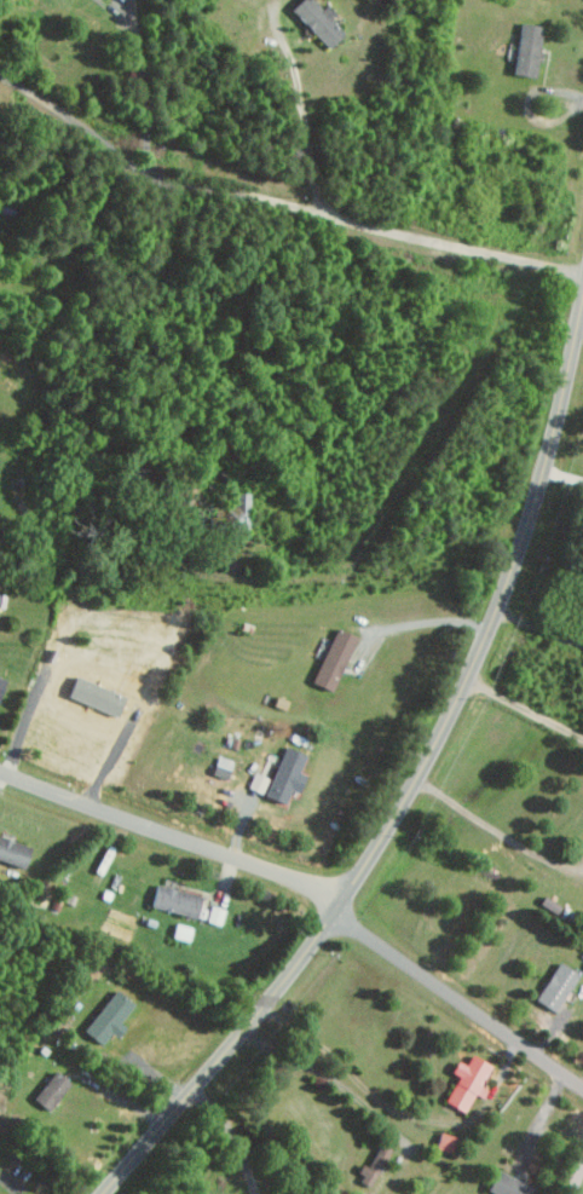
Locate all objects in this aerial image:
building: (317, 21)
building: (526, 50)
road: (145, 87)
road: (302, 108)
road: (278, 203)
road: (581, 331)
road: (564, 473)
building: (238, 513)
road: (417, 621)
road: (538, 625)
building: (331, 658)
building: (1, 681)
road: (524, 708)
building: (221, 766)
building: (279, 775)
road: (406, 789)
road: (495, 829)
road: (172, 836)
building: (12, 852)
building: (174, 899)
building: (181, 931)
building: (555, 986)
road: (457, 998)
building: (106, 1016)
road: (325, 1075)
building: (467, 1081)
building: (50, 1090)
road: (392, 1107)
road: (231, 1130)
building: (445, 1142)
building: (373, 1165)
road: (577, 1179)
building: (507, 1186)

